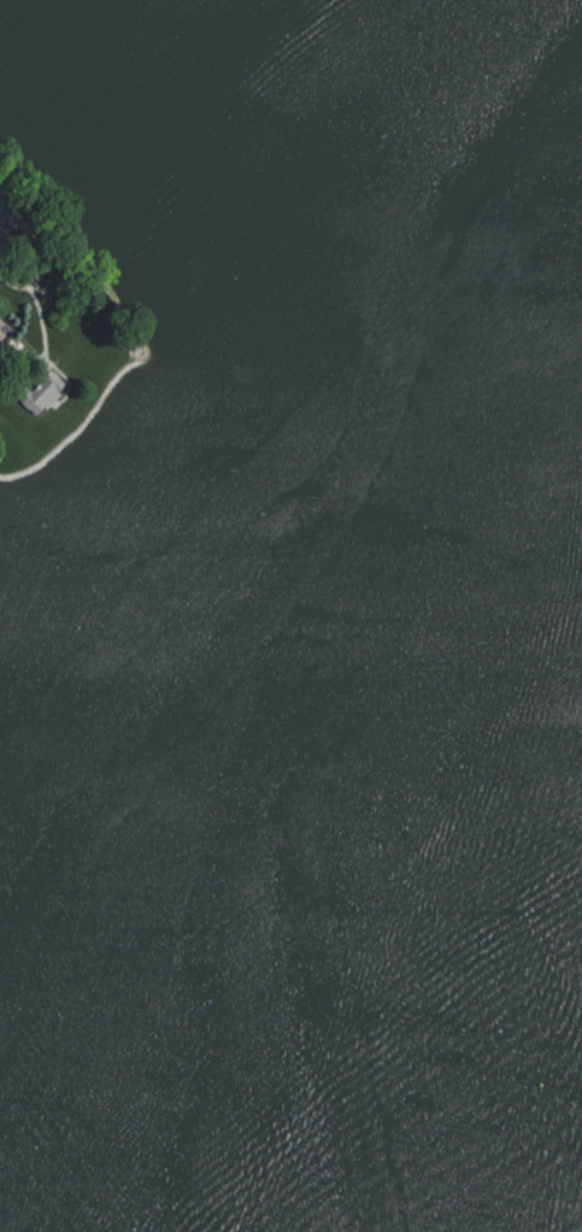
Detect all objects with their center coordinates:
road: (4, 215)
road: (4, 228)
road: (40, 262)
building: (1, 342)
building: (41, 391)

